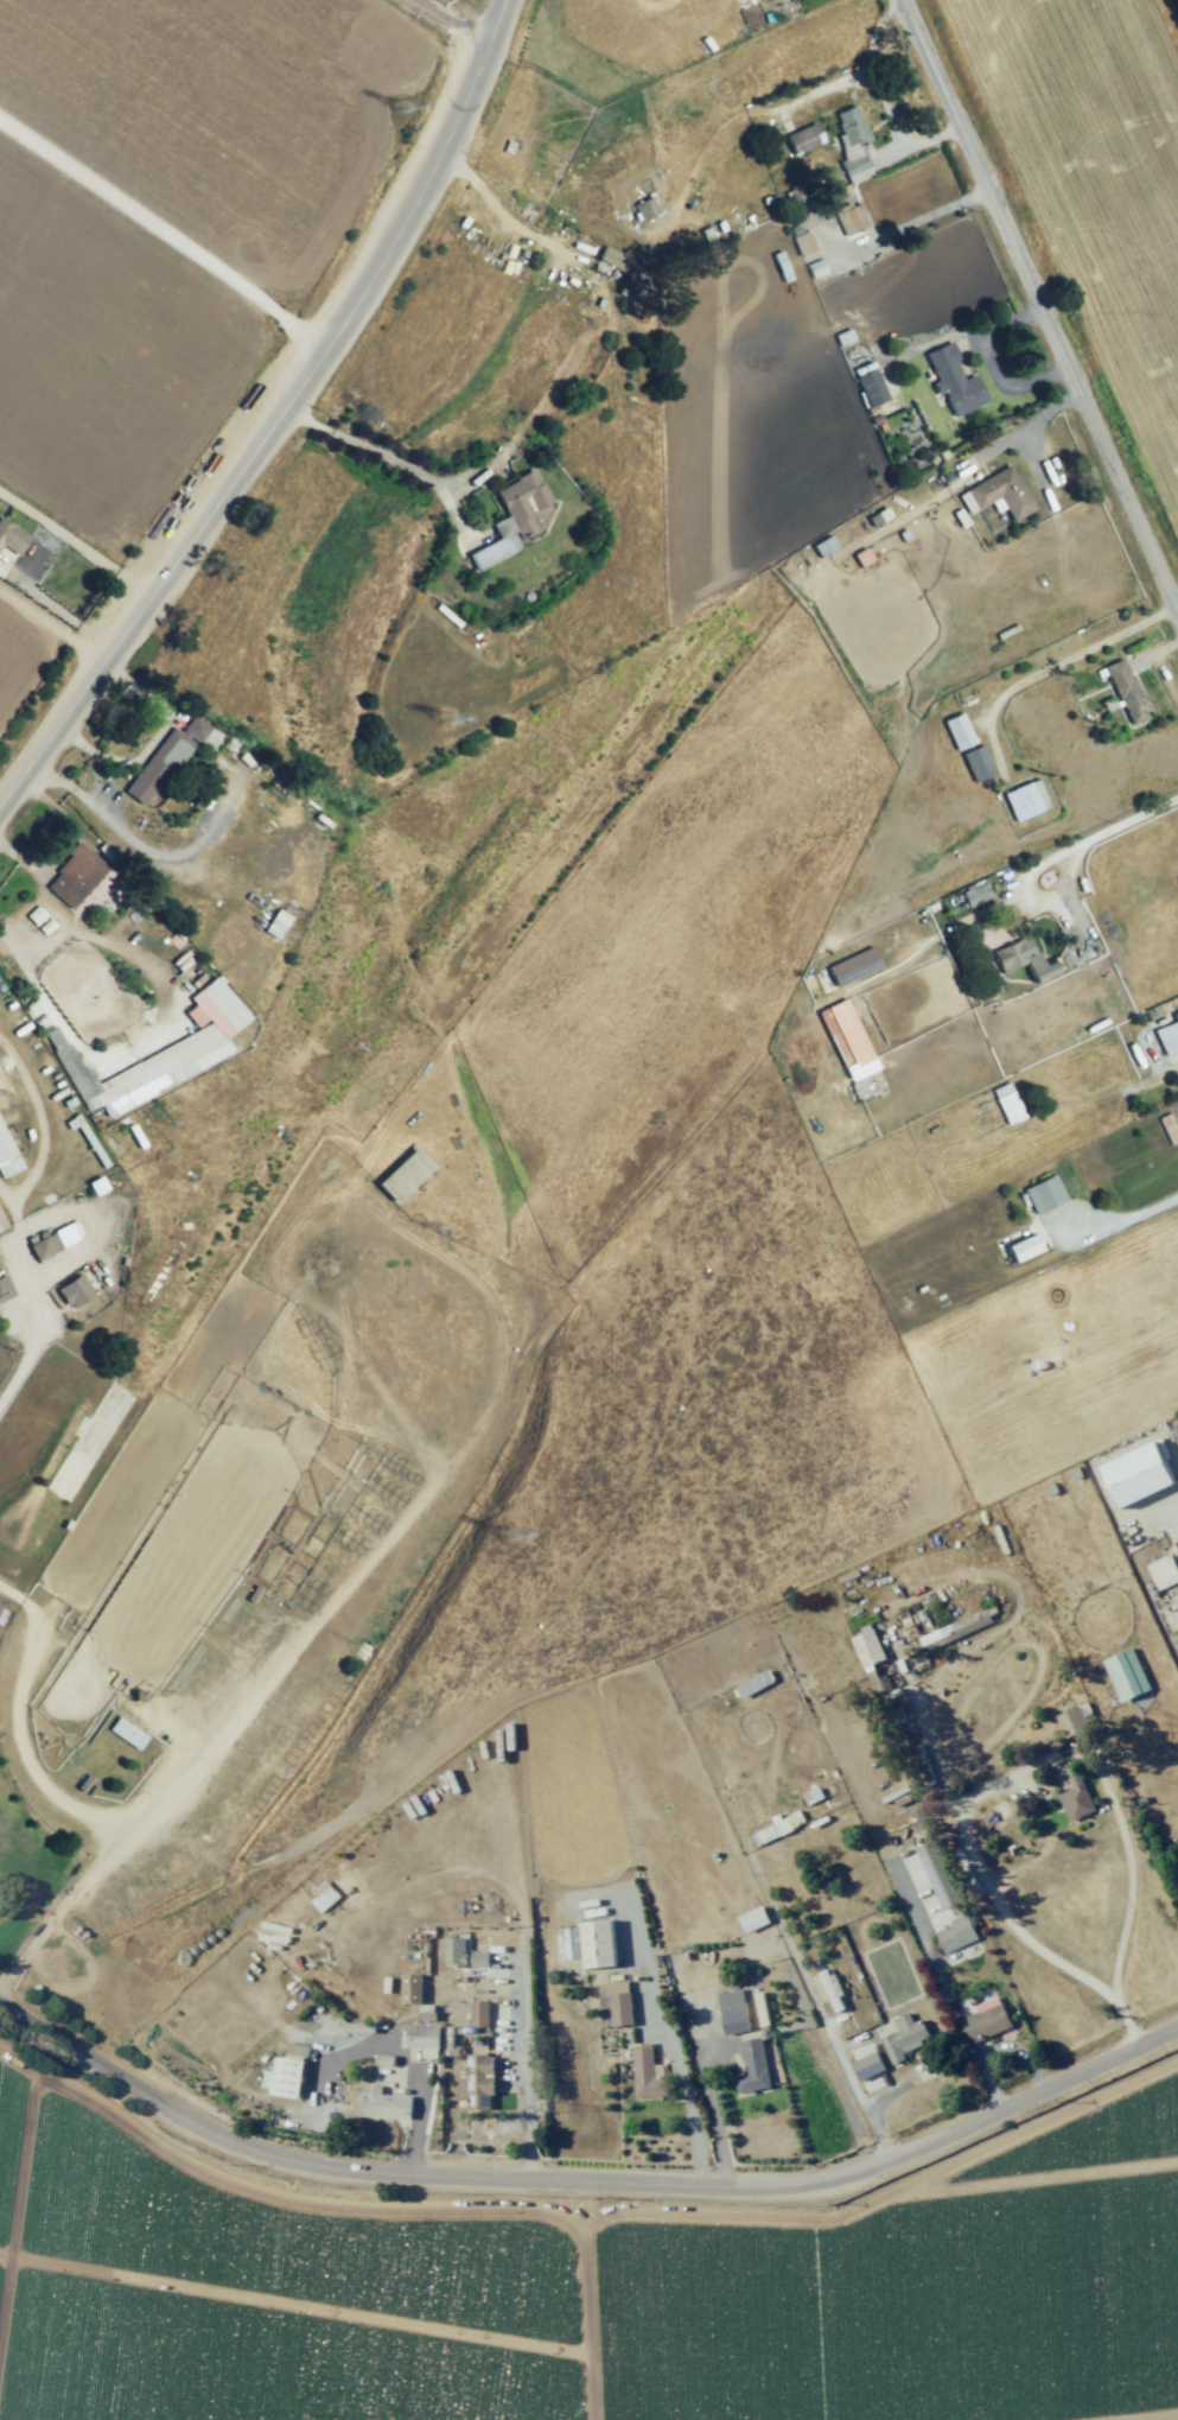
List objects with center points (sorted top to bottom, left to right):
road: (459, 23)
power tower: (395, 108)
building: (803, 139)
building: (853, 144)
crop: (1089, 189)
building: (648, 208)
building: (851, 218)
crop: (178, 224)
building: (803, 243)
building: (626, 273)
road: (1044, 297)
building: (954, 380)
building: (871, 388)
road: (280, 417)
road: (371, 447)
building: (998, 494)
building: (512, 517)
building: (12, 536)
building: (823, 546)
crop: (30, 671)
building: (1126, 691)
power tower: (444, 719)
building: (957, 731)
building: (168, 757)
building: (976, 763)
building: (1025, 800)
building: (75, 876)
building: (975, 894)
building: (276, 923)
building: (1024, 959)
building: (853, 966)
building: (1169, 1035)
building: (852, 1049)
road: (1173, 1067)
building: (1006, 1103)
building: (7, 1155)
building: (403, 1175)
building: (1044, 1194)
building: (0, 1230)
building: (53, 1240)
building: (1021, 1247)
building: (5, 1289)
building: (75, 1290)
building: (1136, 1474)
power tower: (502, 1536)
building: (1163, 1571)
building: (955, 1628)
building: (867, 1646)
building: (1126, 1673)
building: (1072, 1719)
building: (127, 1733)
road: (1040, 1765)
building: (1075, 1798)
road: (56, 1800)
building: (778, 1827)
building: (937, 1874)
building: (324, 1897)
building: (753, 1918)
building: (956, 1933)
building: (571, 1942)
building: (598, 1943)
building: (461, 1952)
building: (826, 1986)
building: (410, 1987)
building: (615, 2002)
building: (732, 2011)
building: (427, 2012)
building: (479, 2013)
building: (986, 2020)
building: (358, 2026)
building: (904, 2037)
building: (424, 2039)
building: (383, 2059)
building: (866, 2060)
building: (752, 2066)
building: (286, 2072)
building: (648, 2073)
building: (477, 2081)
building: (384, 2104)
road: (711, 2104)
power tower: (547, 2108)
road: (587, 2178)
crop: (601, 2289)

